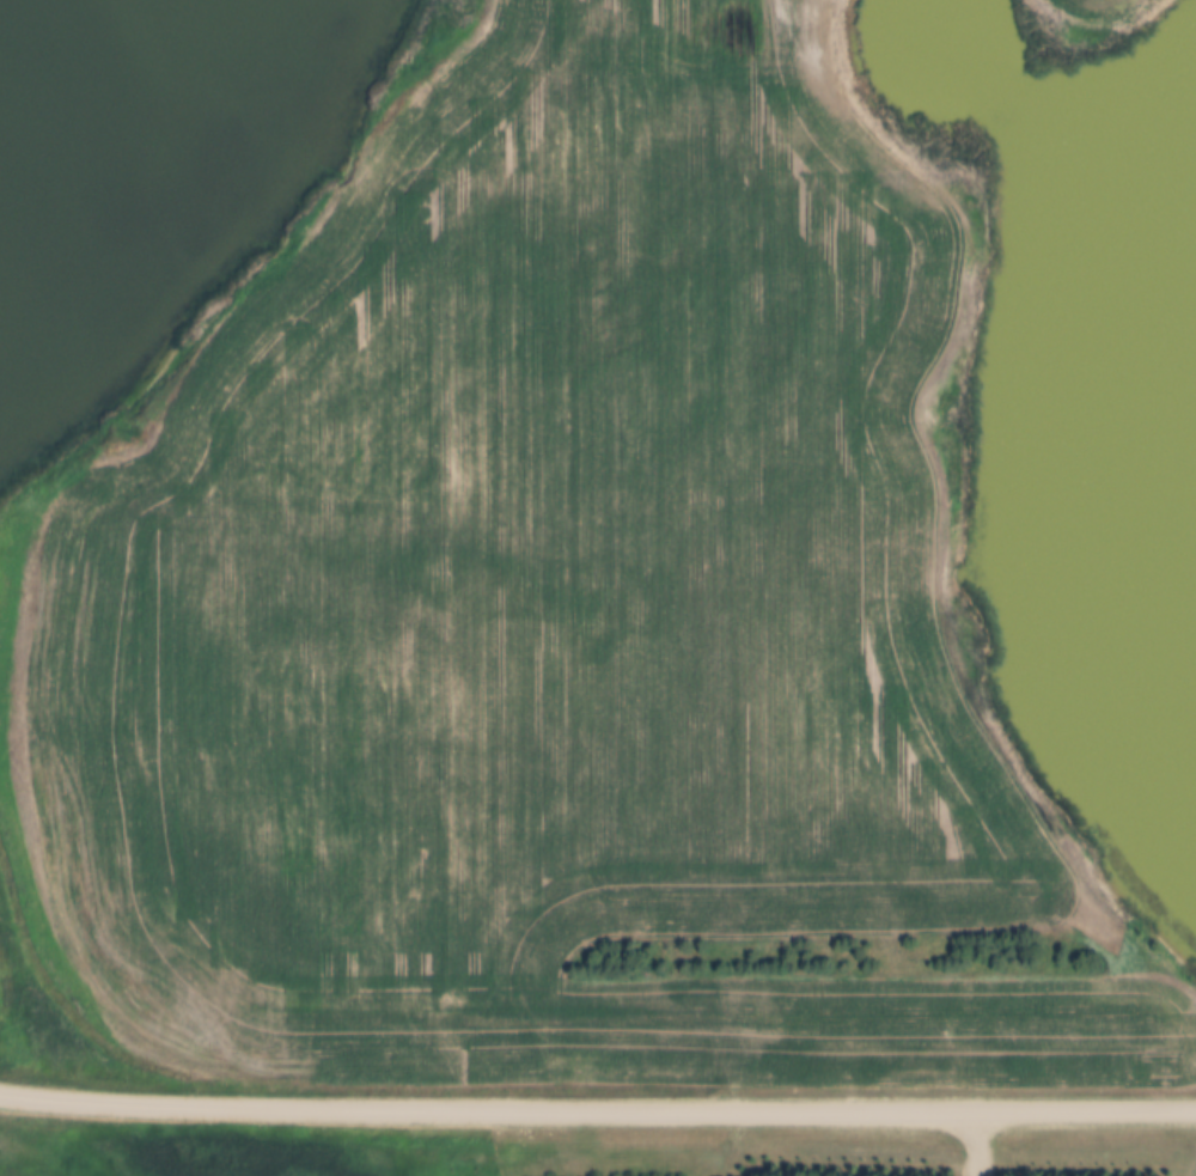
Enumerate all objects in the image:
road: (597, 1109)

